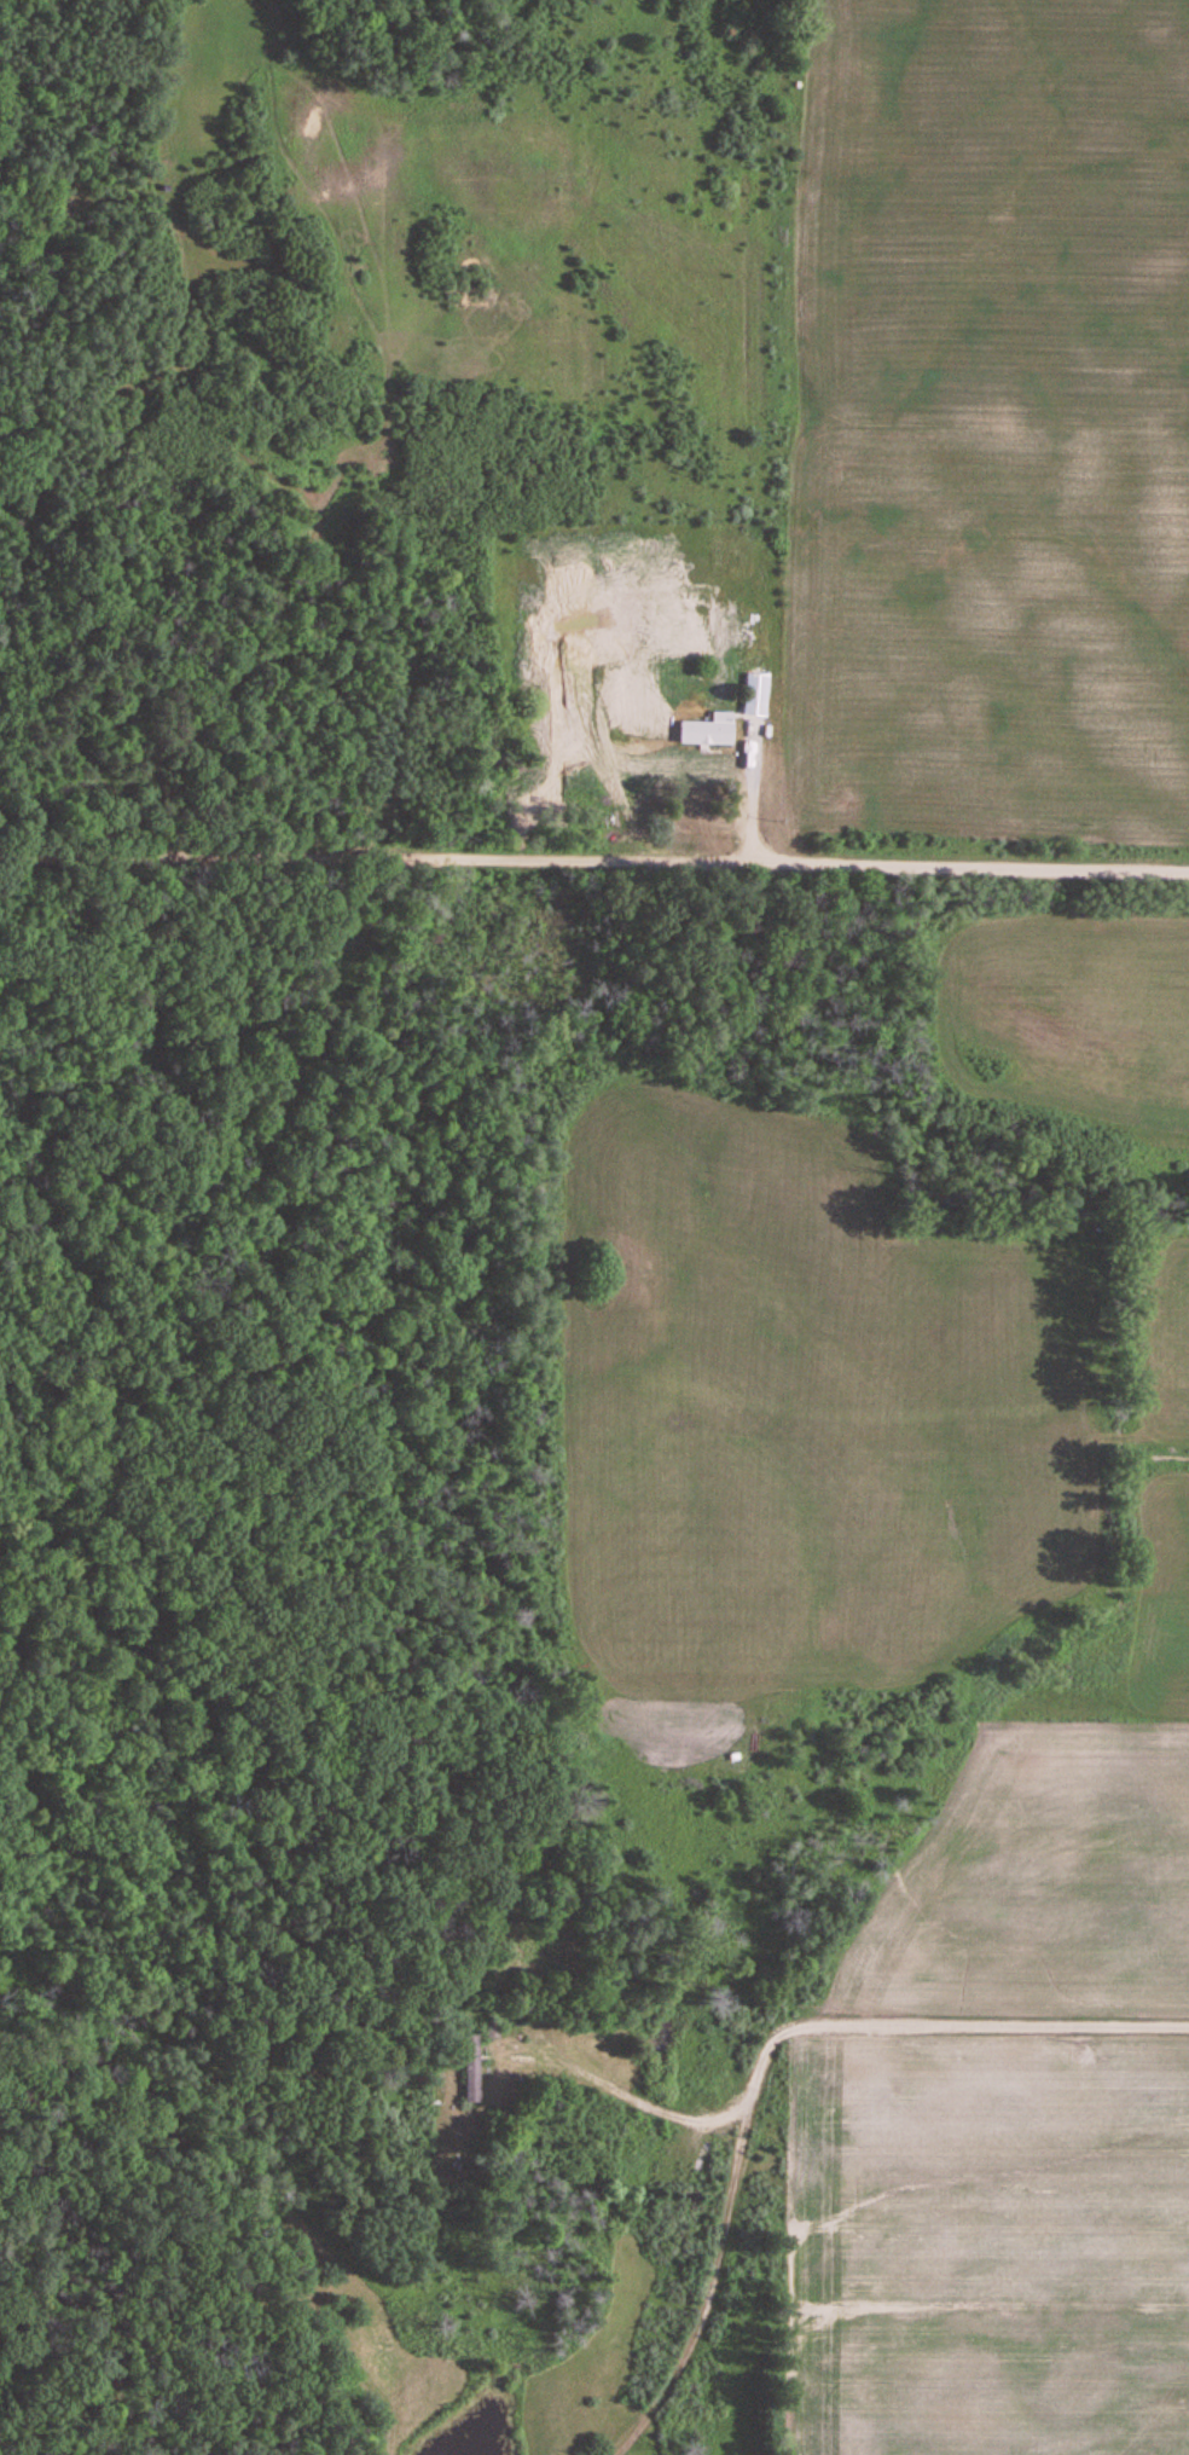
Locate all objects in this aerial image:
building: (754, 695)
building: (706, 731)
road: (593, 861)
building: (470, 2069)

